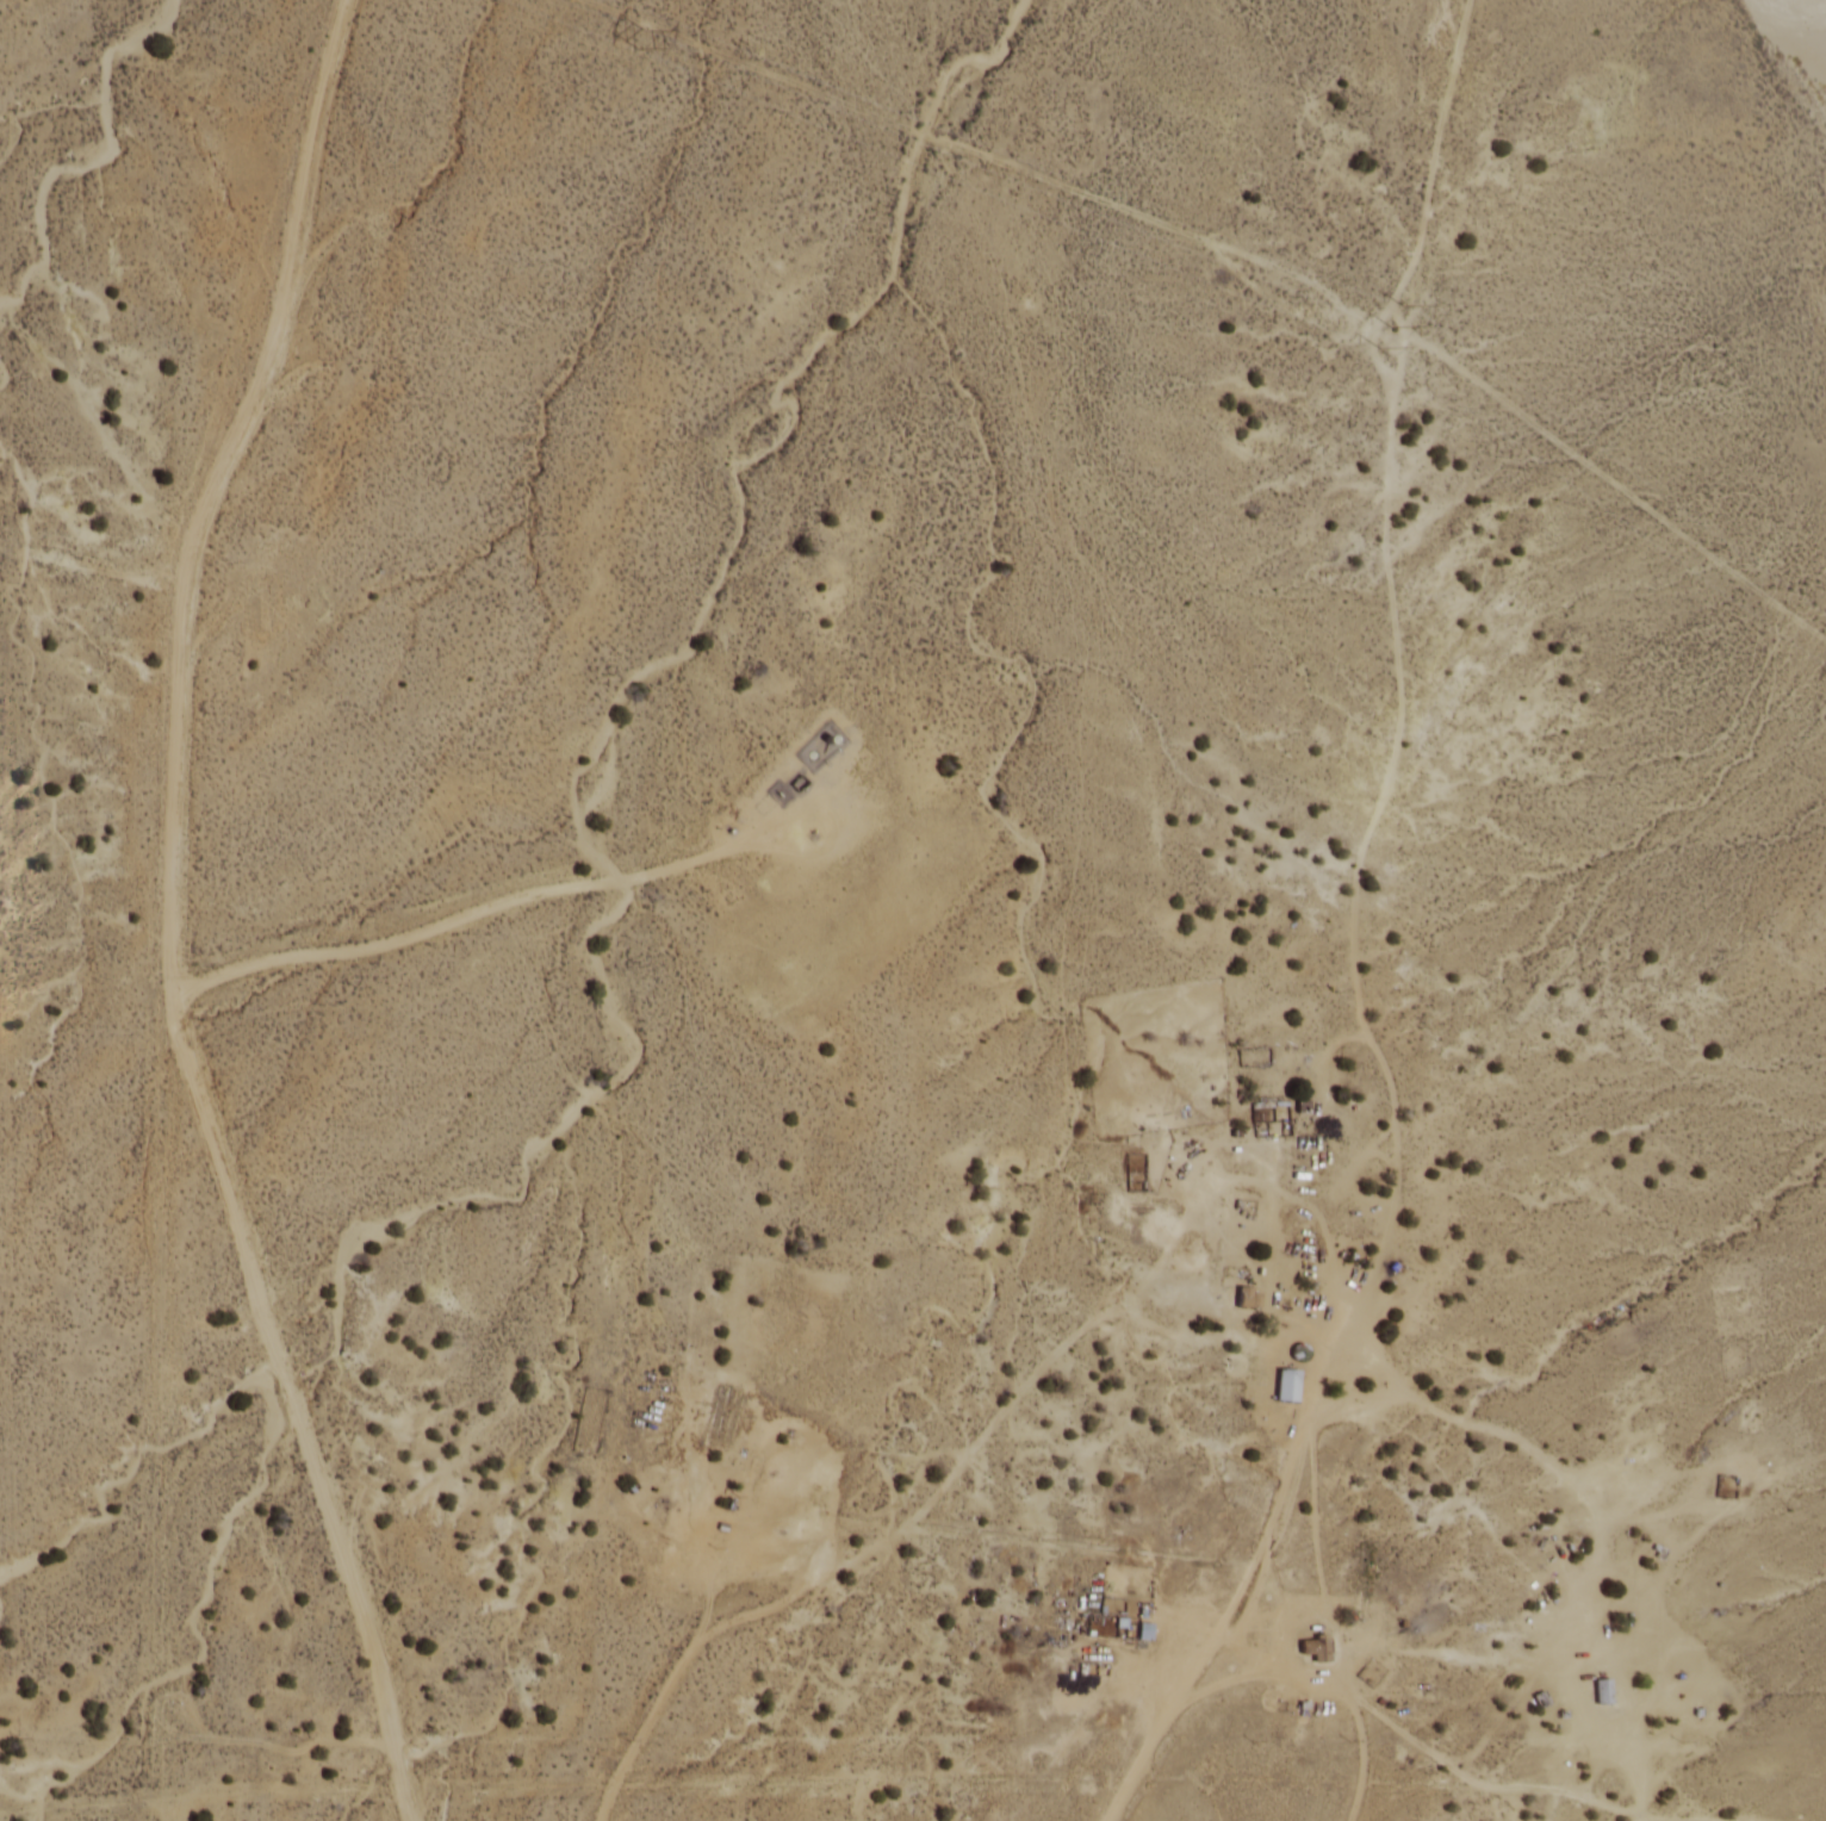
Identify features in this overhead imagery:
river: (1809, 35)
power tower: (641, 41)
power tower: (1396, 324)
road: (98, 417)
road: (174, 915)
building: (1290, 1388)
building: (1147, 1634)
building: (1317, 1652)
building: (1603, 1693)

